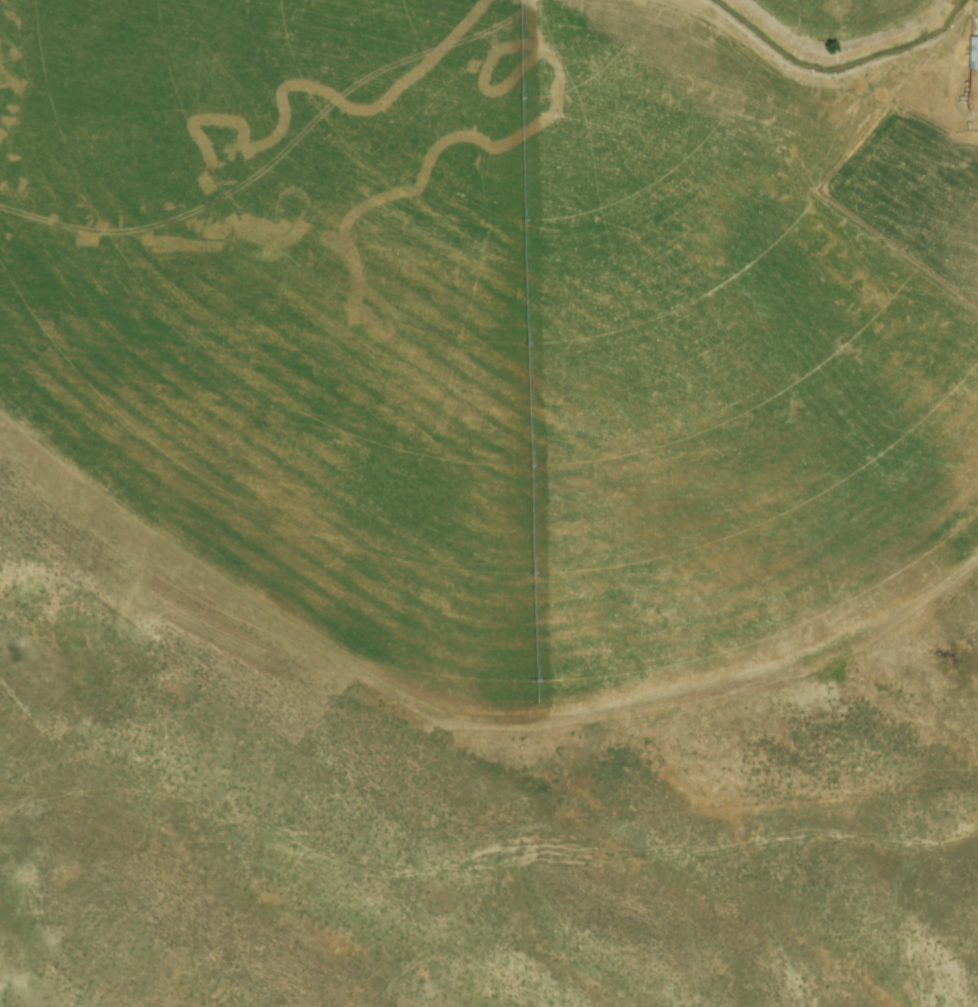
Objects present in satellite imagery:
building: (974, 51)

